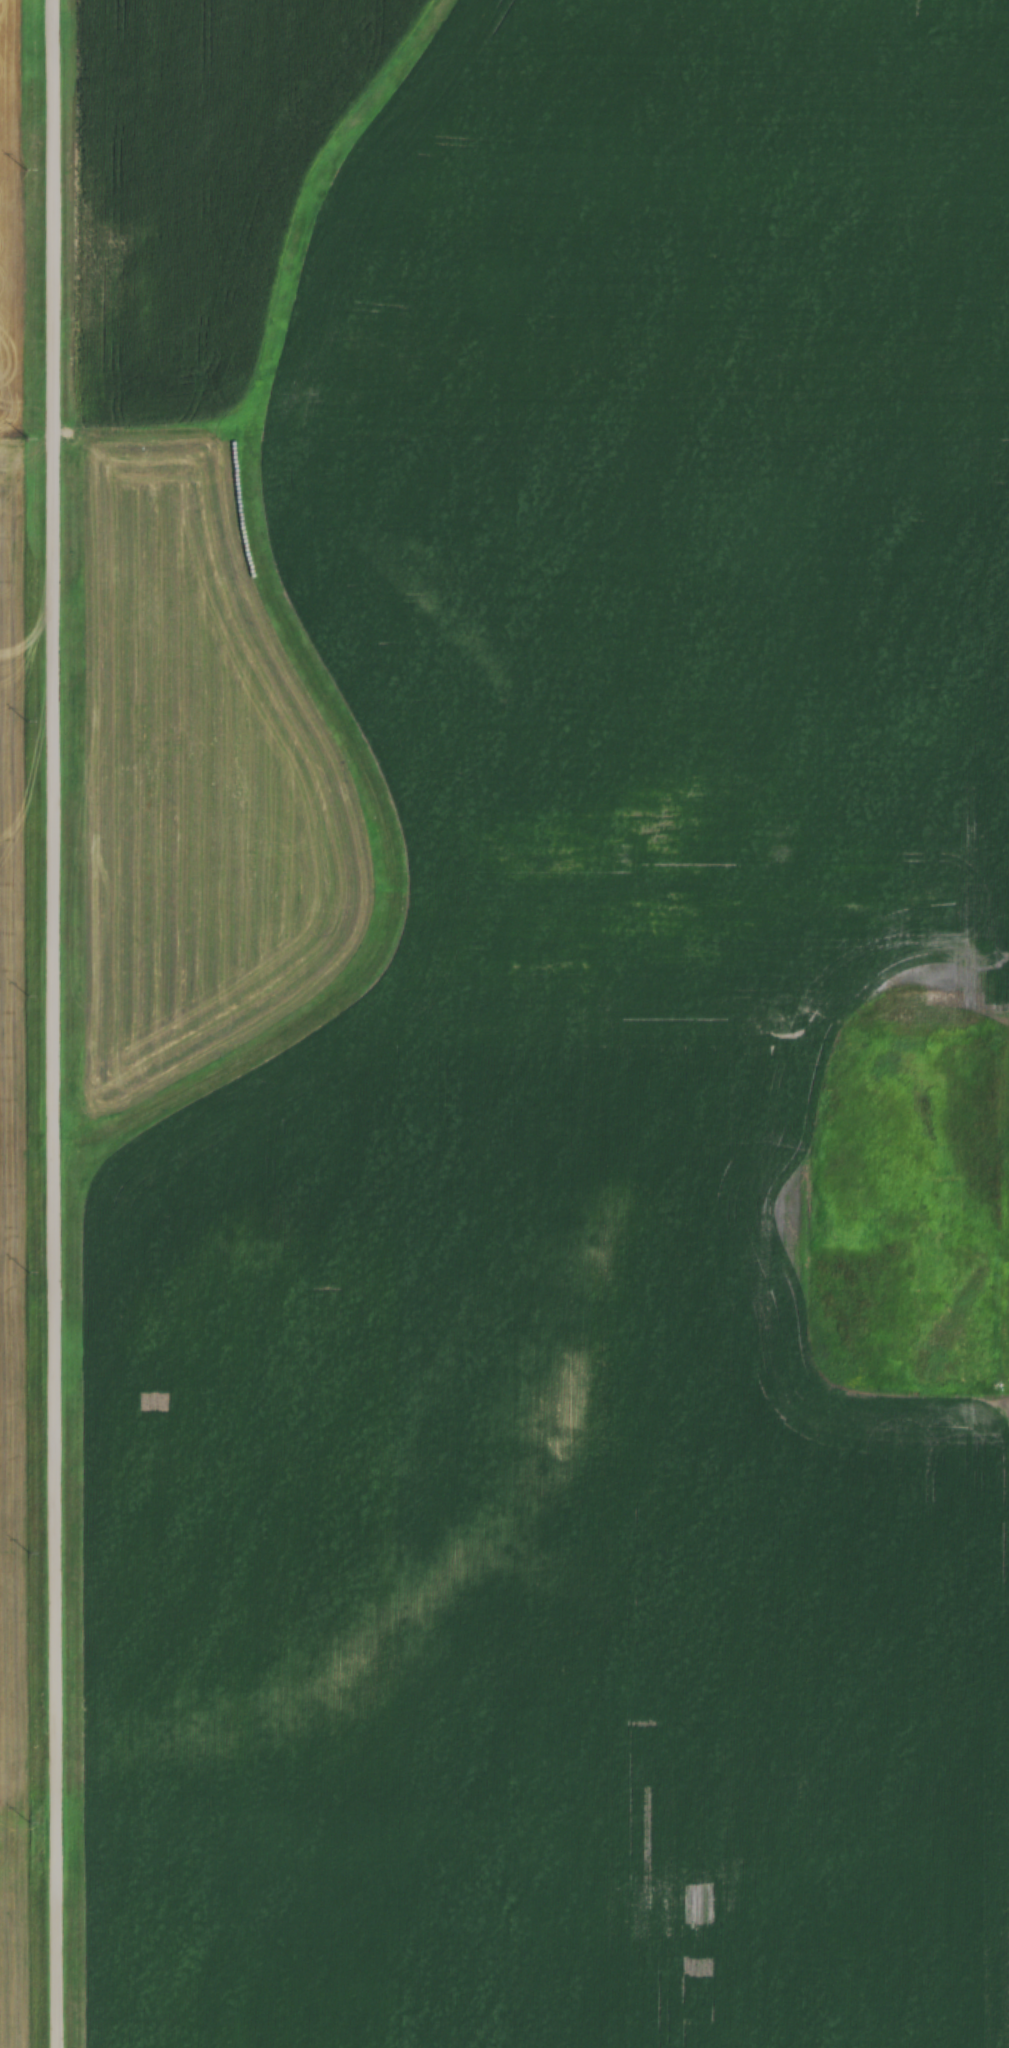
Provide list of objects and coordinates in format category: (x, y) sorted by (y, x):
road: (56, 1024)

